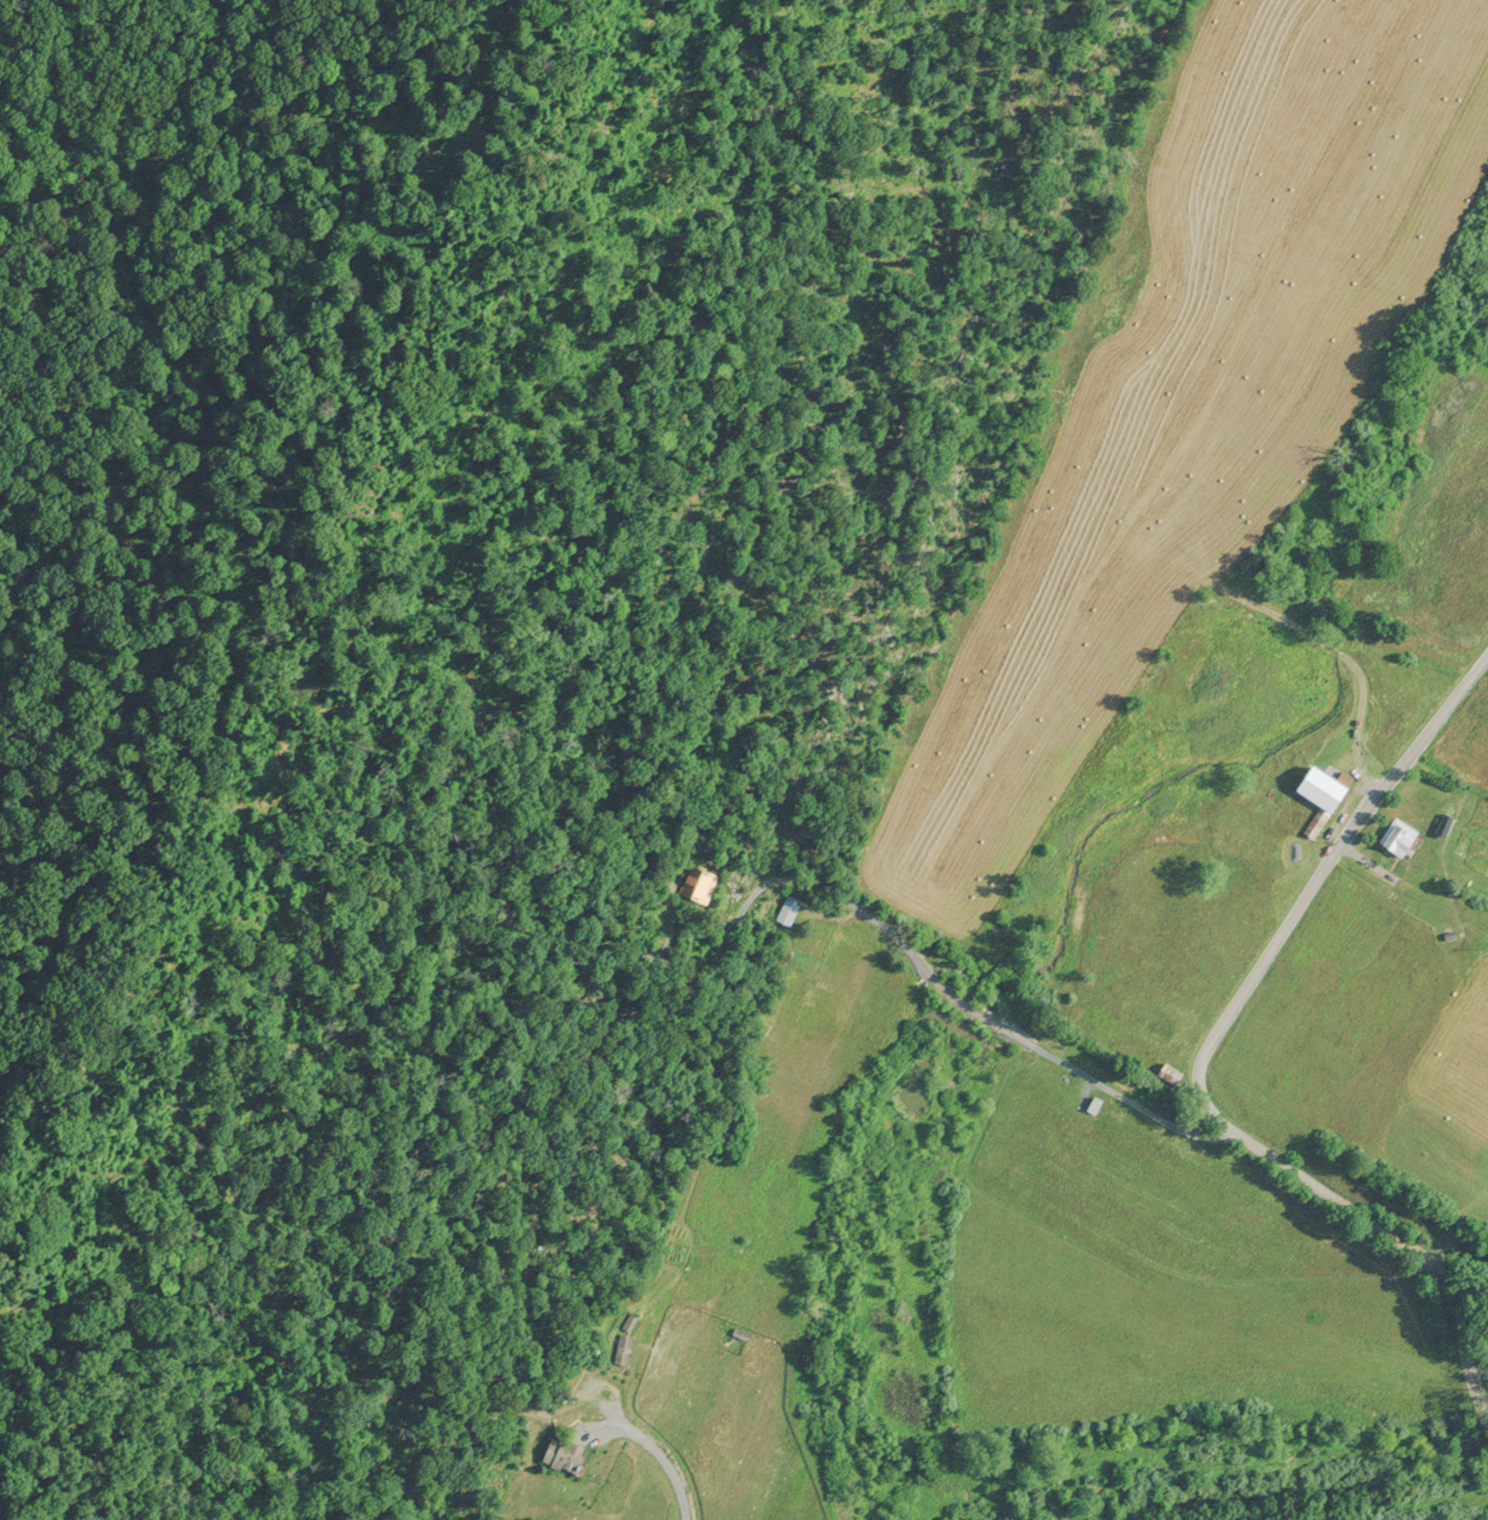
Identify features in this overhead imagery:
building: (1323, 796)
building: (1401, 833)
building: (699, 882)
building: (789, 909)
road: (981, 1015)
road: (1208, 1059)
building: (1172, 1071)
building: (631, 1319)
building: (742, 1331)
building: (624, 1346)
building: (568, 1453)
road: (661, 1454)

